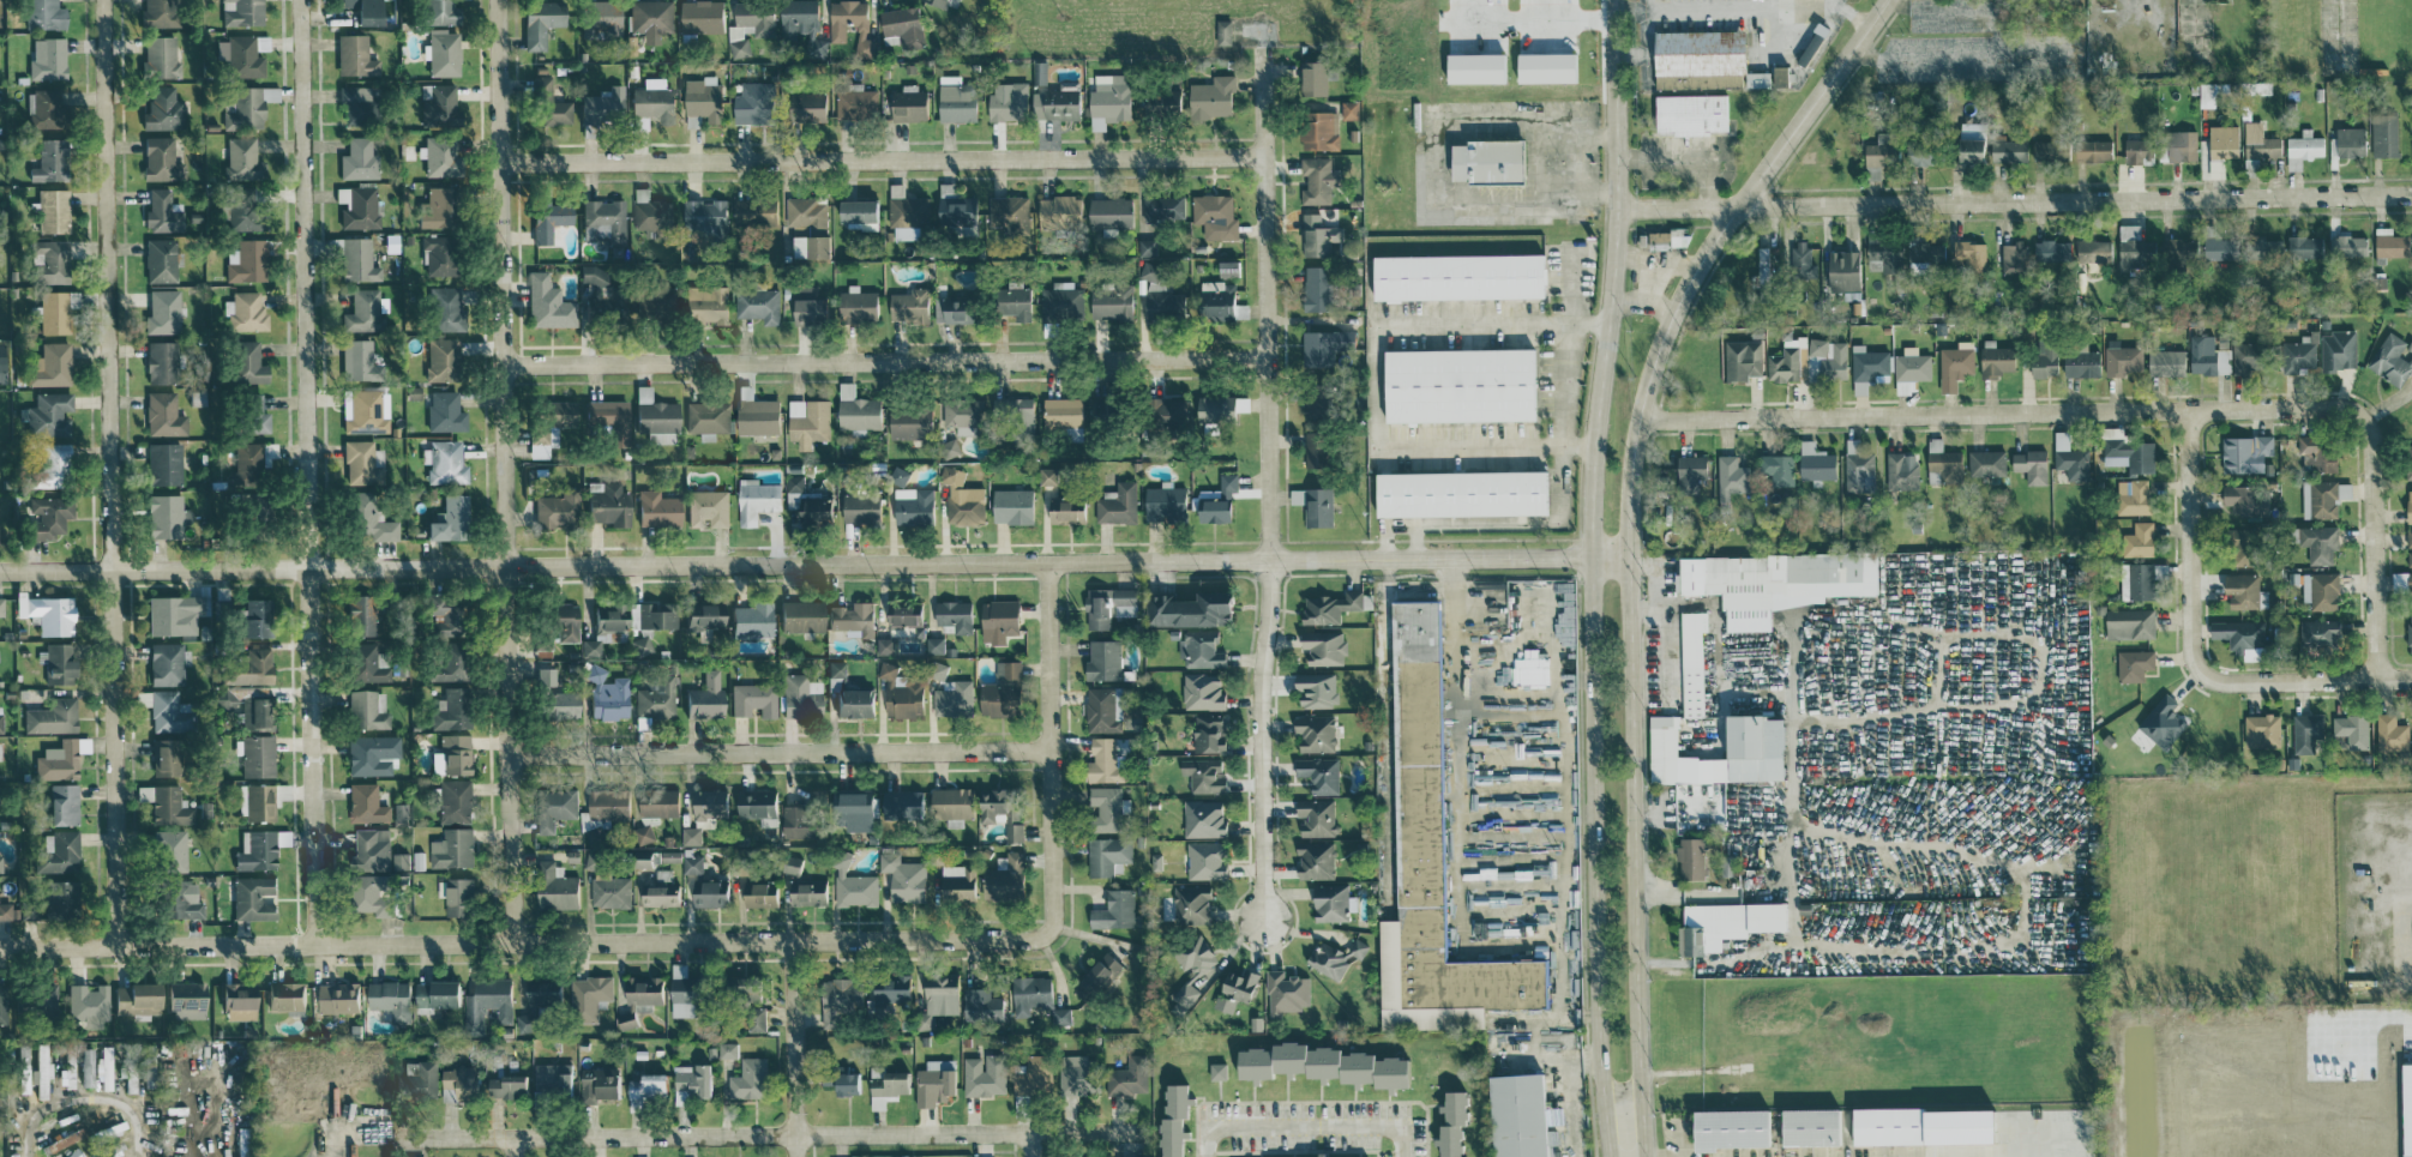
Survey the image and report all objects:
building: (937, 2)
road: (1734, 6)
building: (365, 11)
building: (241, 12)
building: (157, 13)
building: (41, 14)
building: (650, 16)
building: (700, 16)
road: (1849, 16)
building: (597, 18)
road: (2341, 19)
building: (537, 22)
road: (1541, 22)
building: (849, 23)
building: (800, 24)
building: (748, 25)
building: (901, 26)
building: (1222, 31)
building: (1697, 52)
building: (441, 53)
building: (353, 55)
building: (240, 56)
building: (46, 58)
building: (157, 58)
building: (1037, 72)
building: (1779, 76)
building: (1312, 77)
building: (1756, 79)
building: (1664, 80)
building: (700, 95)
building: (1210, 97)
building: (954, 100)
building: (1107, 100)
building: (751, 101)
building: (1160, 101)
building: (648, 102)
building: (854, 102)
building: (1006, 102)
building: (547, 103)
building: (1053, 103)
building: (355, 104)
building: (437, 106)
building: (805, 106)
building: (246, 107)
building: (1348, 109)
building: (161, 110)
building: (1690, 113)
building: (1318, 129)
building: (2383, 134)
building: (2221, 140)
building: (2348, 140)
building: (2258, 141)
building: (2181, 145)
building: (2302, 147)
building: (1881, 149)
building: (1968, 150)
building: (2008, 150)
building: (2047, 150)
building: (2092, 150)
building: (2137, 150)
building: (1919, 152)
building: (435, 157)
road: (884, 158)
building: (158, 159)
building: (240, 159)
building: (357, 159)
building: (46, 161)
building: (1485, 161)
road: (1446, 164)
road: (1545, 164)
building: (1317, 179)
road: (2015, 200)
building: (356, 206)
building: (1162, 206)
building: (433, 209)
building: (955, 209)
building: (53, 210)
building: (753, 210)
building: (1058, 210)
building: (161, 212)
building: (906, 212)
building: (1007, 212)
building: (1108, 212)
building: (650, 213)
building: (855, 213)
building: (1213, 216)
building: (240, 217)
building: (704, 217)
building: (602, 221)
building: (548, 222)
building: (816, 230)
building: (1317, 235)
building: (1665, 237)
building: (2389, 242)
building: (2347, 245)
building: (2267, 246)
building: (2304, 246)
building: (1145, 247)
building: (2216, 247)
building: (1883, 249)
building: (1924, 251)
building: (2050, 251)
building: (2172, 253)
building: (1969, 254)
building: (437, 255)
road: (1707, 257)
building: (2014, 258)
building: (157, 260)
building: (356, 260)
building: (49, 261)
building: (243, 261)
building: (1764, 264)
building: (1802, 264)
building: (1226, 267)
building: (1842, 272)
building: (1456, 276)
building: (1316, 288)
building: (600, 290)
building: (1157, 293)
building: (1011, 300)
building: (1060, 301)
building: (1111, 301)
building: (652, 302)
building: (546, 303)
building: (757, 305)
building: (855, 305)
building: (908, 305)
building: (705, 306)
building: (806, 306)
building: (443, 308)
building: (952, 309)
building: (52, 312)
building: (161, 312)
building: (243, 312)
building: (1324, 348)
building: (2336, 349)
building: (2298, 352)
building: (2044, 356)
building: (2206, 356)
building: (2244, 357)
building: (356, 358)
road: (889, 358)
building: (1742, 358)
building: (1993, 358)
building: (2389, 358)
building: (441, 360)
building: (1808, 360)
building: (2079, 360)
building: (2122, 360)
building: (158, 361)
building: (2165, 361)
building: (0, 362)
building: (245, 362)
building: (1954, 363)
building: (49, 366)
building: (1865, 366)
building: (1909, 369)
road: (1378, 378)
building: (1457, 384)
road: (1560, 384)
building: (413, 392)
building: (1219, 406)
building: (856, 410)
building: (443, 411)
building: (604, 411)
building: (1060, 411)
building: (1167, 412)
road: (2007, 412)
building: (251, 414)
building: (363, 414)
building: (48, 415)
building: (162, 415)
building: (757, 415)
building: (1017, 415)
building: (655, 416)
building: (960, 416)
building: (706, 418)
building: (807, 421)
building: (909, 421)
building: (949, 447)
building: (1313, 450)
building: (2244, 452)
building: (2316, 452)
building: (2131, 453)
building: (2067, 456)
building: (2408, 460)
building: (443, 462)
building: (361, 463)
building: (1815, 463)
building: (1942, 463)
building: (1985, 463)
building: (162, 464)
building: (248, 464)
building: (2029, 465)
building: (49, 466)
building: (1858, 468)
road: (510, 470)
building: (1900, 470)
building: (1689, 471)
road: (309, 472)
road: (108, 474)
building: (1778, 474)
building: (1046, 475)
building: (898, 476)
building: (1730, 478)
building: (1226, 486)
road: (1269, 488)
building: (1460, 493)
building: (2131, 496)
building: (962, 498)
building: (2240, 498)
building: (2318, 499)
building: (754, 500)
building: (1118, 502)
building: (606, 504)
building: (1163, 504)
building: (1011, 505)
building: (1313, 505)
building: (2408, 505)
building: (912, 506)
building: (555, 508)
building: (655, 508)
building: (706, 508)
building: (860, 508)
building: (1064, 510)
building: (1213, 511)
building: (812, 512)
building: (46, 517)
building: (162, 517)
building: (365, 518)
building: (447, 519)
road: (1493, 522)
building: (2137, 540)
road: (1416, 541)
road: (2188, 542)
building: (2318, 543)
building: (2240, 546)
building: (2408, 547)
road: (2377, 548)
road: (814, 564)
road: (1588, 578)
building: (1778, 578)
building: (2135, 580)
building: (2240, 590)
building: (2320, 590)
road: (1510, 593)
building: (1107, 605)
building: (0, 607)
building: (1329, 607)
building: (1186, 609)
building: (46, 613)
building: (173, 614)
building: (359, 615)
building: (440, 615)
building: (652, 615)
building: (952, 615)
building: (799, 616)
building: (703, 617)
building: (255, 619)
building: (852, 619)
building: (750, 620)
building: (997, 620)
building: (2128, 623)
building: (554, 625)
building: (602, 627)
building: (2410, 632)
building: (2240, 633)
building: (2318, 633)
building: (884, 645)
building: (934, 645)
building: (1323, 646)
building: (1199, 649)
building: (1102, 661)
building: (1691, 662)
building: (56, 663)
building: (446, 663)
building: (164, 664)
building: (363, 664)
building: (2133, 664)
building: (247, 668)
building: (938, 669)
road: (2305, 680)
building: (1315, 688)
building: (999, 691)
building: (1202, 691)
building: (606, 694)
building: (898, 694)
building: (552, 697)
building: (703, 697)
building: (800, 697)
building: (952, 698)
building: (655, 699)
building: (752, 699)
building: (852, 703)
building: (451, 709)
building: (367, 710)
building: (164, 711)
building: (49, 717)
building: (2161, 722)
building: (0, 727)
building: (2351, 729)
building: (2261, 730)
building: (1207, 731)
building: (1313, 731)
building: (2305, 731)
building: (2390, 733)
building: (1752, 736)
road: (782, 745)
road: (1051, 748)
building: (372, 754)
building: (453, 754)
building: (254, 755)
building: (163, 758)
building: (55, 761)
building: (1102, 761)
building: (1318, 773)
building: (1202, 775)
road: (1493, 788)
building: (144, 794)
building: (453, 801)
building: (255, 802)
building: (949, 802)
building: (363, 803)
building: (656, 803)
building: (60, 805)
building: (708, 805)
building: (990, 805)
building: (606, 806)
building: (757, 806)
building: (900, 806)
building: (169, 807)
building: (553, 807)
building: (1105, 808)
building: (853, 809)
building: (399, 814)
building: (1316, 816)
building: (1202, 818)
road: (1562, 818)
building: (794, 821)
building: (1012, 832)
building: (640, 834)
building: (691, 836)
building: (451, 848)
building: (371, 849)
building: (254, 850)
building: (168, 851)
building: (55, 852)
building: (1106, 855)
road: (1636, 857)
building: (640, 858)
building: (1690, 858)
building: (1204, 860)
building: (1313, 860)
building: (399, 861)
building: (1430, 861)
building: (691, 863)
building: (789, 863)
road: (1784, 872)
building: (1003, 876)
building: (903, 878)
building: (956, 882)
building: (852, 884)
building: (553, 886)
building: (660, 890)
building: (609, 892)
building: (805, 892)
building: (706, 893)
building: (757, 893)
building: (369, 894)
building: (53, 897)
building: (457, 897)
building: (251, 898)
building: (1330, 902)
building: (1190, 904)
building: (1113, 910)
building: (4, 911)
building: (1725, 923)
road: (523, 940)
building: (1333, 958)
building: (1097, 975)
building: (1233, 989)
building: (542, 990)
building: (890, 992)
building: (1286, 992)
building: (681, 993)
building: (1029, 993)
building: (433, 994)
building: (283, 996)
building: (587, 996)
building: (336, 998)
building: (133, 999)
building: (182, 999)
building: (389, 999)
building: (634, 999)
building: (937, 999)
building: (40, 1001)
building: (235, 1002)
building: (486, 1002)
building: (1, 1004)
building: (88, 1005)
building: (980, 1005)
building: (1059, 1016)
building: (754, 1019)
road: (1559, 1020)
road: (795, 1047)
building: (726, 1049)
building: (106, 1061)
building: (1321, 1063)
building: (68, 1066)
building: (20, 1067)
building: (86, 1067)
building: (1216, 1069)
building: (41, 1071)
building: (984, 1074)
building: (1031, 1074)
building: (1076, 1074)
building: (1126, 1075)
building: (549, 1077)
building: (746, 1078)
building: (417, 1079)
building: (688, 1079)
building: (932, 1080)
building: (457, 1081)
building: (842, 1081)
building: (596, 1083)
building: (504, 1085)
building: (645, 1085)
building: (884, 1086)
road: (2399, 1090)
road: (112, 1095)
building: (1516, 1114)
building: (1172, 1116)
road: (1307, 1123)
building: (1449, 1123)
building: (1920, 1123)
building: (1809, 1125)
building: (1728, 1127)
building: (110, 1129)
road: (771, 1134)
road: (35, 1135)
building: (56, 1143)
road: (329, 1144)
road: (1029, 1144)
road: (512, 1146)
building: (115, 1147)
building: (73, 1153)
building: (411, 1156)
building: (1316, 1156)
building: (1334, 1156)

